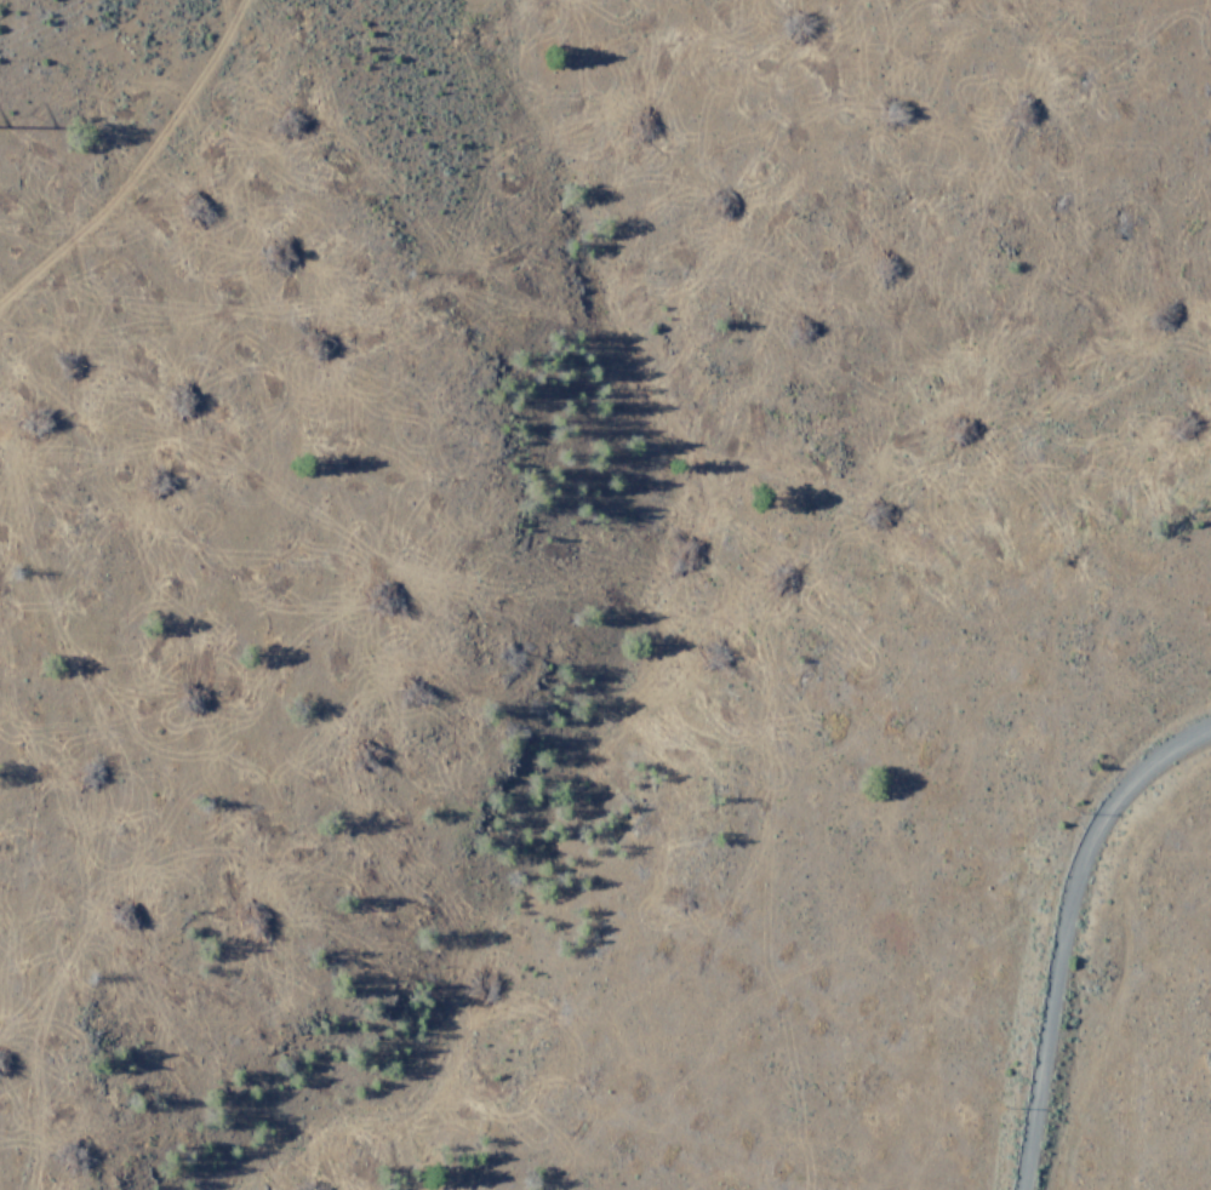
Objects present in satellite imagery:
road: (1063, 934)

